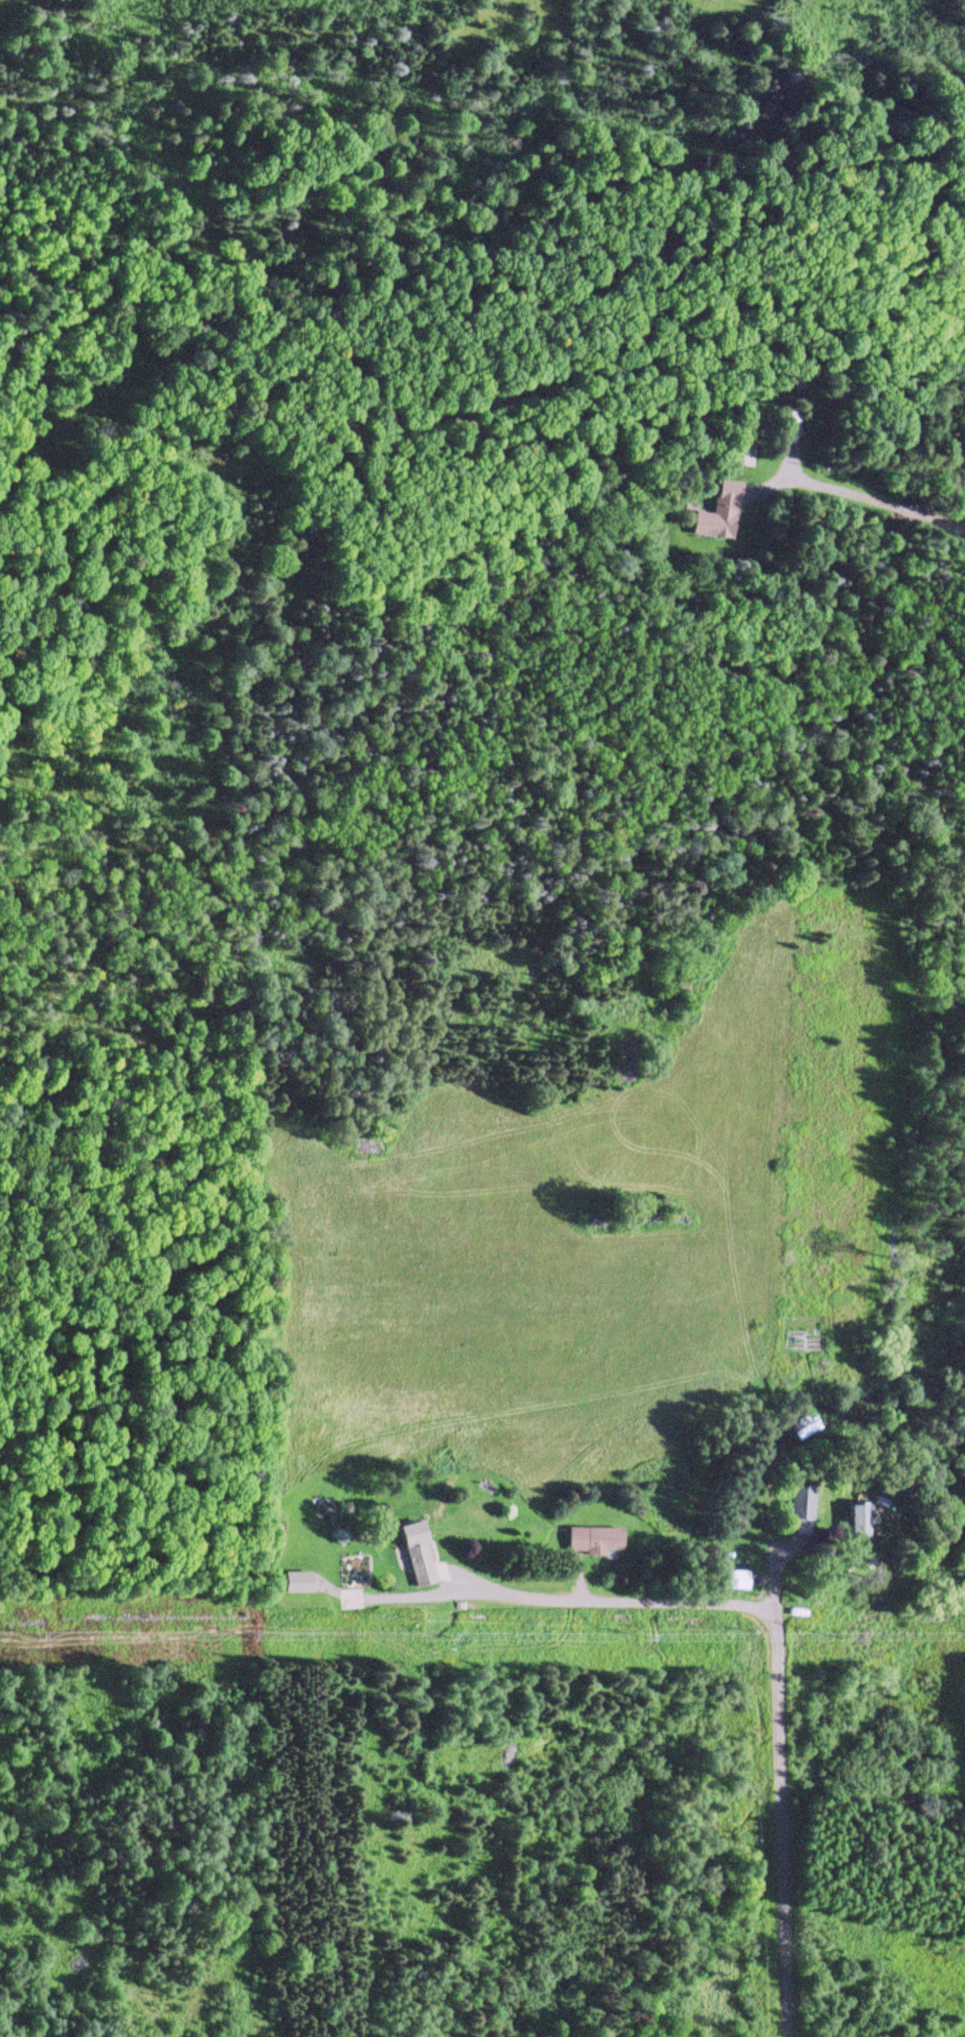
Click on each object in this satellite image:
building: (717, 514)
building: (802, 1427)
building: (795, 1504)
building: (851, 1520)
building: (591, 1541)
building: (415, 1556)
building: (730, 1581)
road: (779, 1815)

